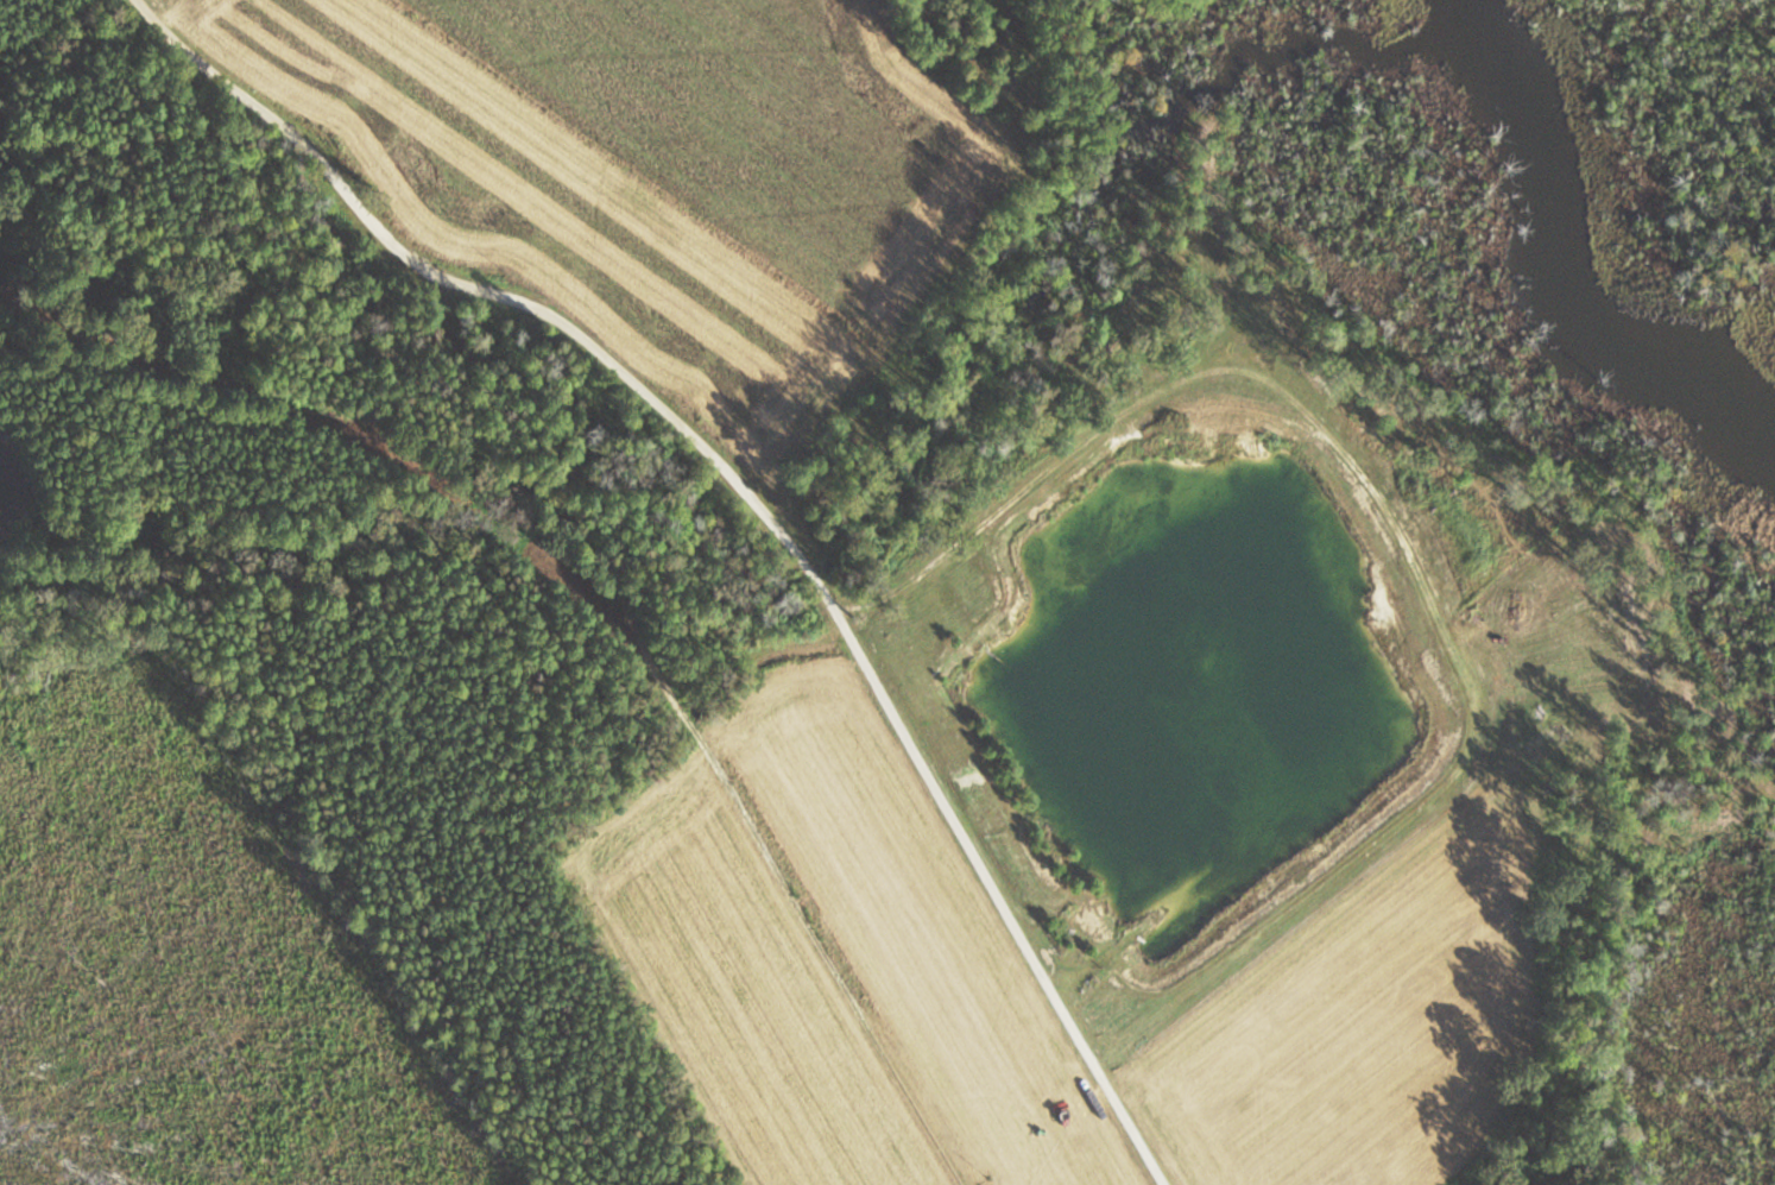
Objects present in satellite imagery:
road: (748, 500)

